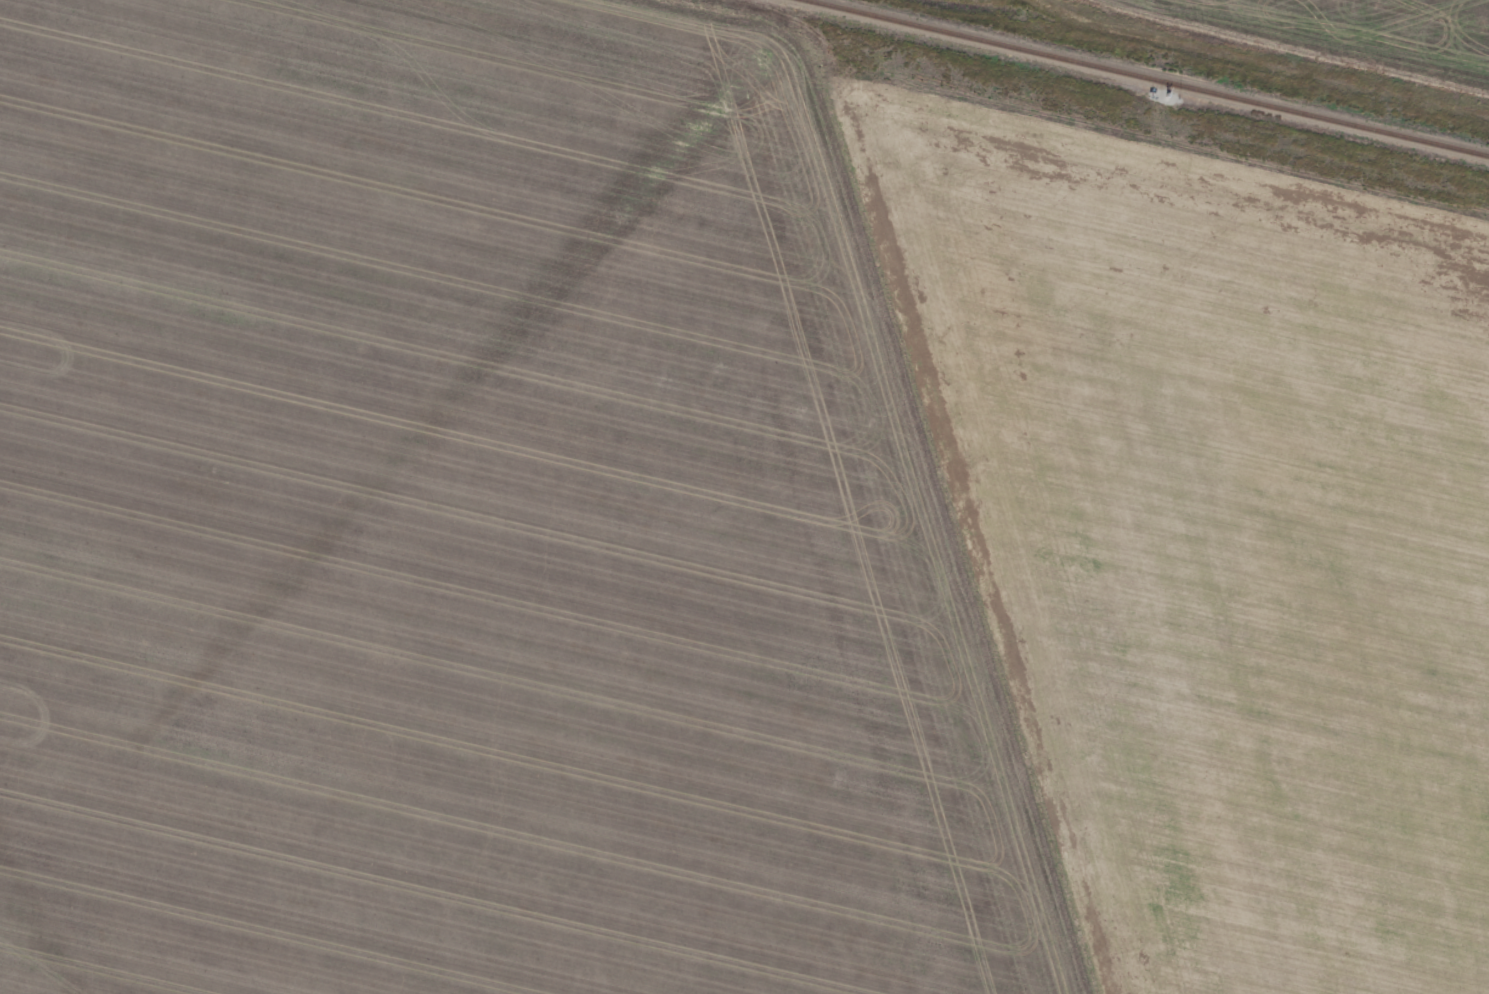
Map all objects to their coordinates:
railway: (1149, 77)

